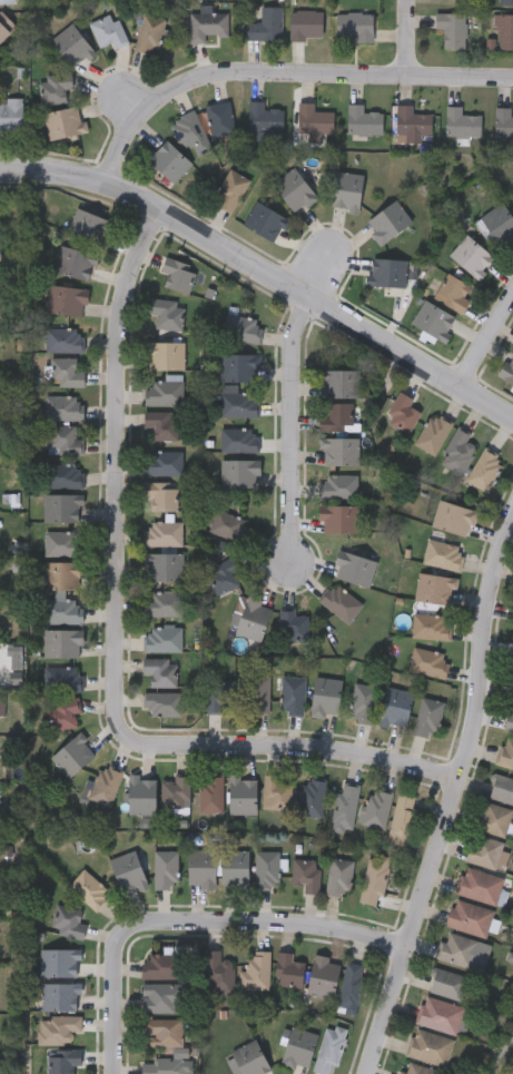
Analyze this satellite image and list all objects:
building: (457, 0)
building: (6, 1)
building: (505, 1)
building: (206, 23)
building: (265, 23)
building: (304, 23)
building: (354, 23)
building: (4, 26)
building: (450, 27)
building: (503, 28)
building: (106, 29)
building: (148, 32)
road: (404, 36)
building: (70, 45)
building: (0, 55)
road: (279, 71)
building: (52, 87)
building: (10, 114)
building: (263, 116)
building: (219, 117)
building: (361, 118)
building: (411, 119)
building: (312, 120)
building: (460, 120)
building: (502, 120)
building: (62, 122)
building: (189, 131)
building: (167, 158)
building: (229, 188)
building: (293, 188)
building: (345, 188)
building: (264, 219)
building: (386, 219)
building: (497, 221)
building: (90, 225)
building: (470, 254)
building: (76, 260)
building: (385, 269)
road: (263, 270)
building: (179, 274)
building: (451, 290)
building: (67, 298)
building: (166, 313)
building: (432, 318)
building: (243, 326)
building: (65, 338)
road: (487, 342)
building: (166, 354)
building: (240, 366)
building: (507, 366)
building: (68, 372)
building: (341, 383)
building: (165, 392)
building: (238, 402)
building: (65, 407)
building: (403, 412)
building: (337, 416)
building: (162, 425)
road: (289, 427)
building: (434, 433)
building: (62, 439)
building: (341, 451)
building: (458, 452)
building: (240, 457)
building: (165, 462)
building: (485, 469)
building: (65, 475)
road: (118, 477)
building: (339, 485)
building: (161, 495)
building: (63, 506)
building: (339, 518)
building: (455, 518)
building: (228, 523)
building: (164, 532)
building: (63, 542)
building: (444, 554)
building: (165, 565)
building: (355, 566)
building: (63, 574)
building: (226, 574)
building: (436, 588)
building: (342, 601)
building: (165, 602)
building: (65, 610)
building: (254, 617)
building: (295, 624)
building: (432, 625)
building: (164, 638)
building: (63, 642)
building: (430, 661)
building: (0, 669)
building: (161, 670)
building: (62, 678)
building: (259, 693)
building: (294, 694)
building: (221, 696)
building: (327, 696)
building: (1, 702)
building: (364, 702)
building: (164, 703)
building: (397, 706)
building: (65, 713)
building: (428, 717)
building: (509, 720)
road: (306, 751)
building: (506, 752)
building: (72, 755)
building: (106, 785)
building: (502, 788)
building: (176, 791)
building: (276, 791)
road: (458, 792)
building: (211, 794)
building: (244, 794)
building: (142, 795)
building: (313, 796)
building: (346, 807)
building: (377, 808)
building: (403, 818)
building: (495, 818)
building: (485, 850)
building: (236, 866)
building: (167, 868)
building: (203, 868)
building: (268, 869)
building: (129, 871)
building: (308, 874)
building: (341, 875)
building: (375, 879)
building: (481, 884)
building: (89, 888)
road: (279, 917)
building: (470, 917)
building: (69, 923)
building: (457, 949)
building: (60, 962)
building: (161, 966)
building: (256, 970)
building: (289, 970)
building: (218, 973)
building: (324, 975)
building: (450, 984)
building: (352, 987)
road: (115, 989)
building: (61, 996)
building: (161, 997)
building: (444, 1015)
building: (59, 1027)
building: (162, 1032)
building: (430, 1046)
building: (299, 1047)
building: (331, 1050)
building: (249, 1058)
building: (63, 1061)
building: (167, 1063)
building: (418, 1068)

